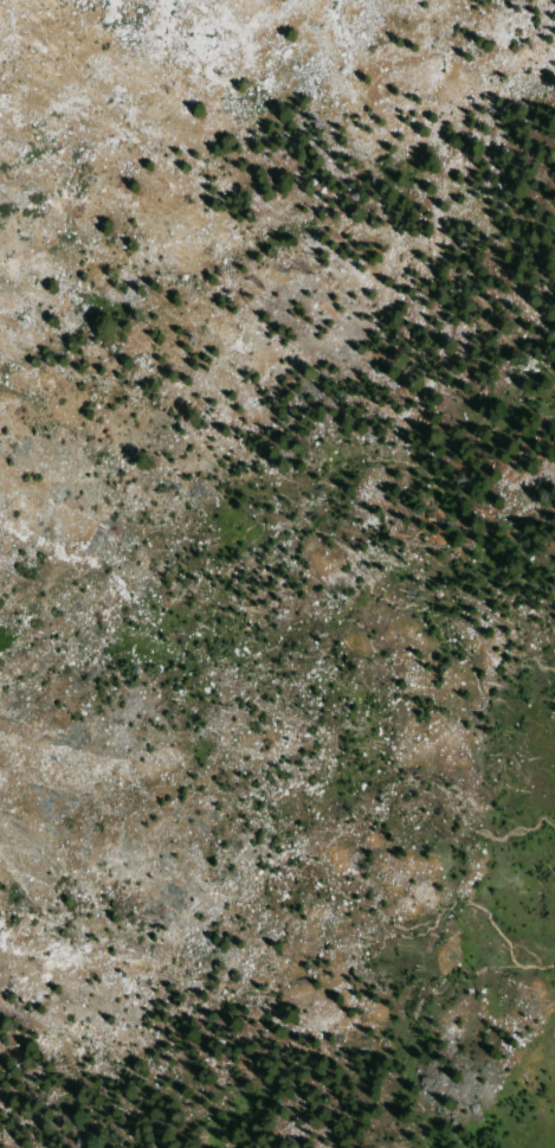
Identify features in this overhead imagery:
road: (543, 1130)

